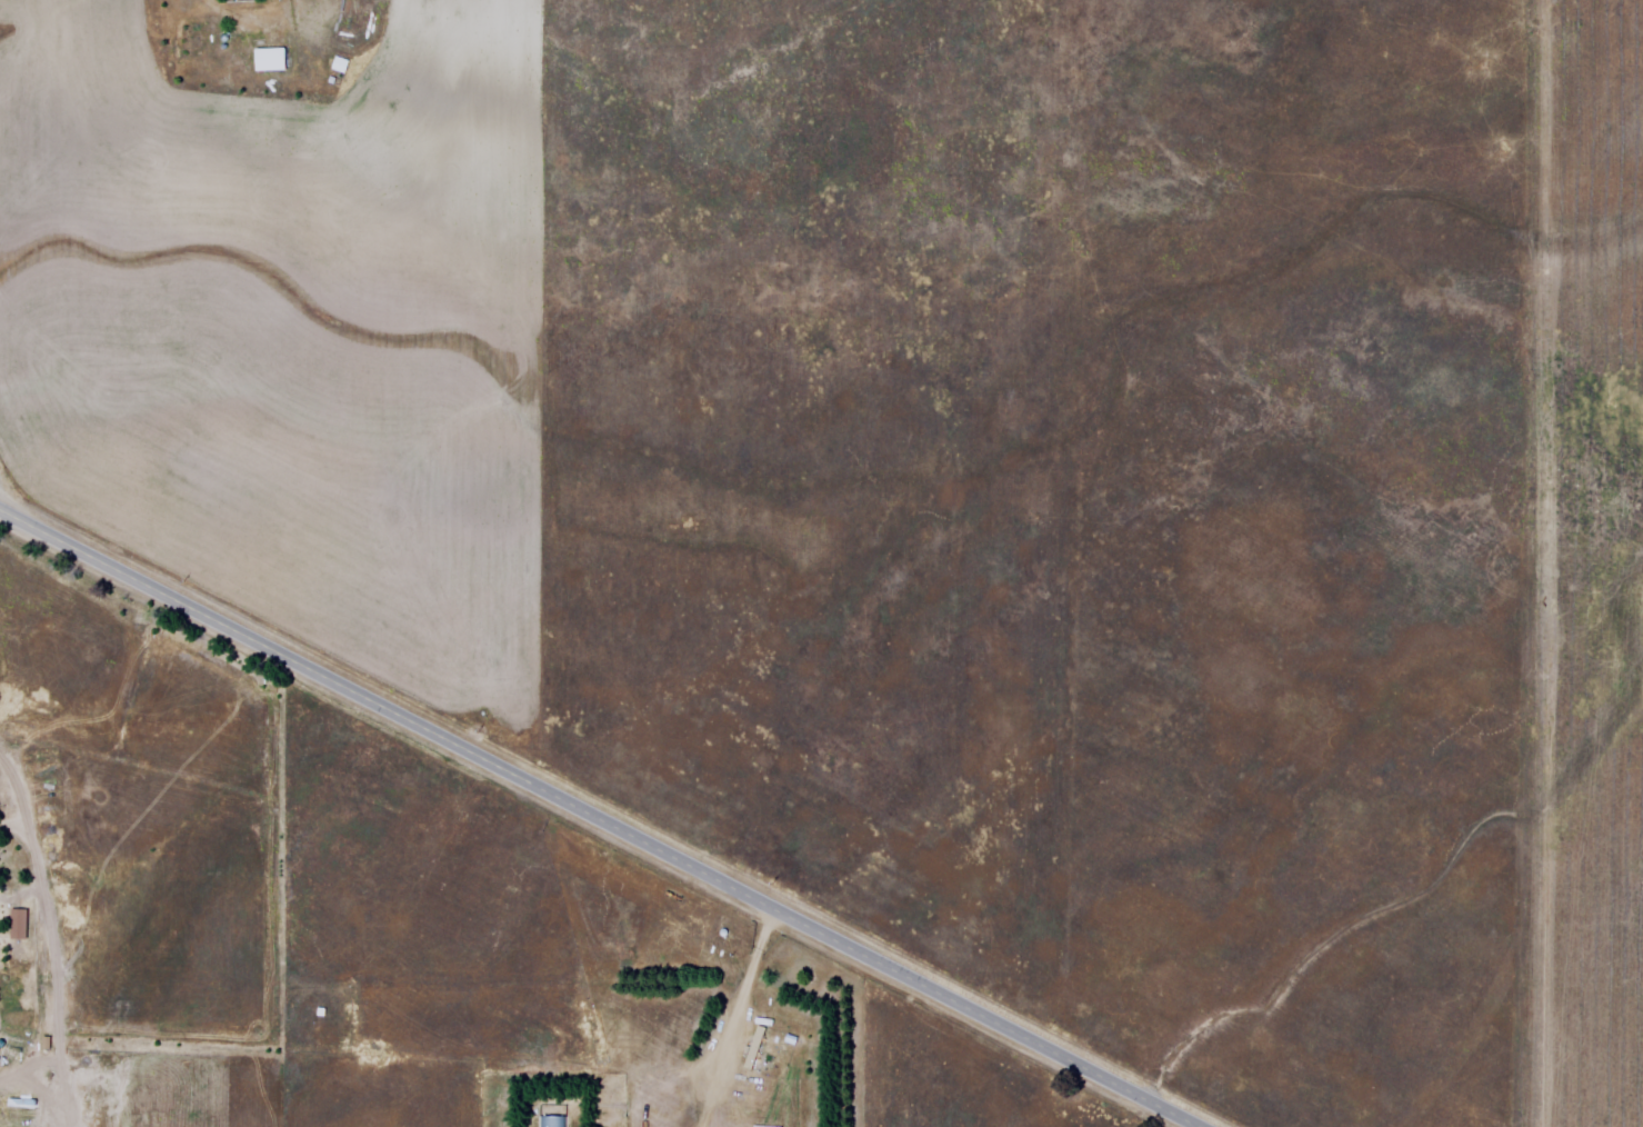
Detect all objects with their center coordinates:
building: (273, 62)
road: (599, 817)
building: (0, 921)
road: (738, 1017)
building: (751, 1048)
building: (555, 1121)

